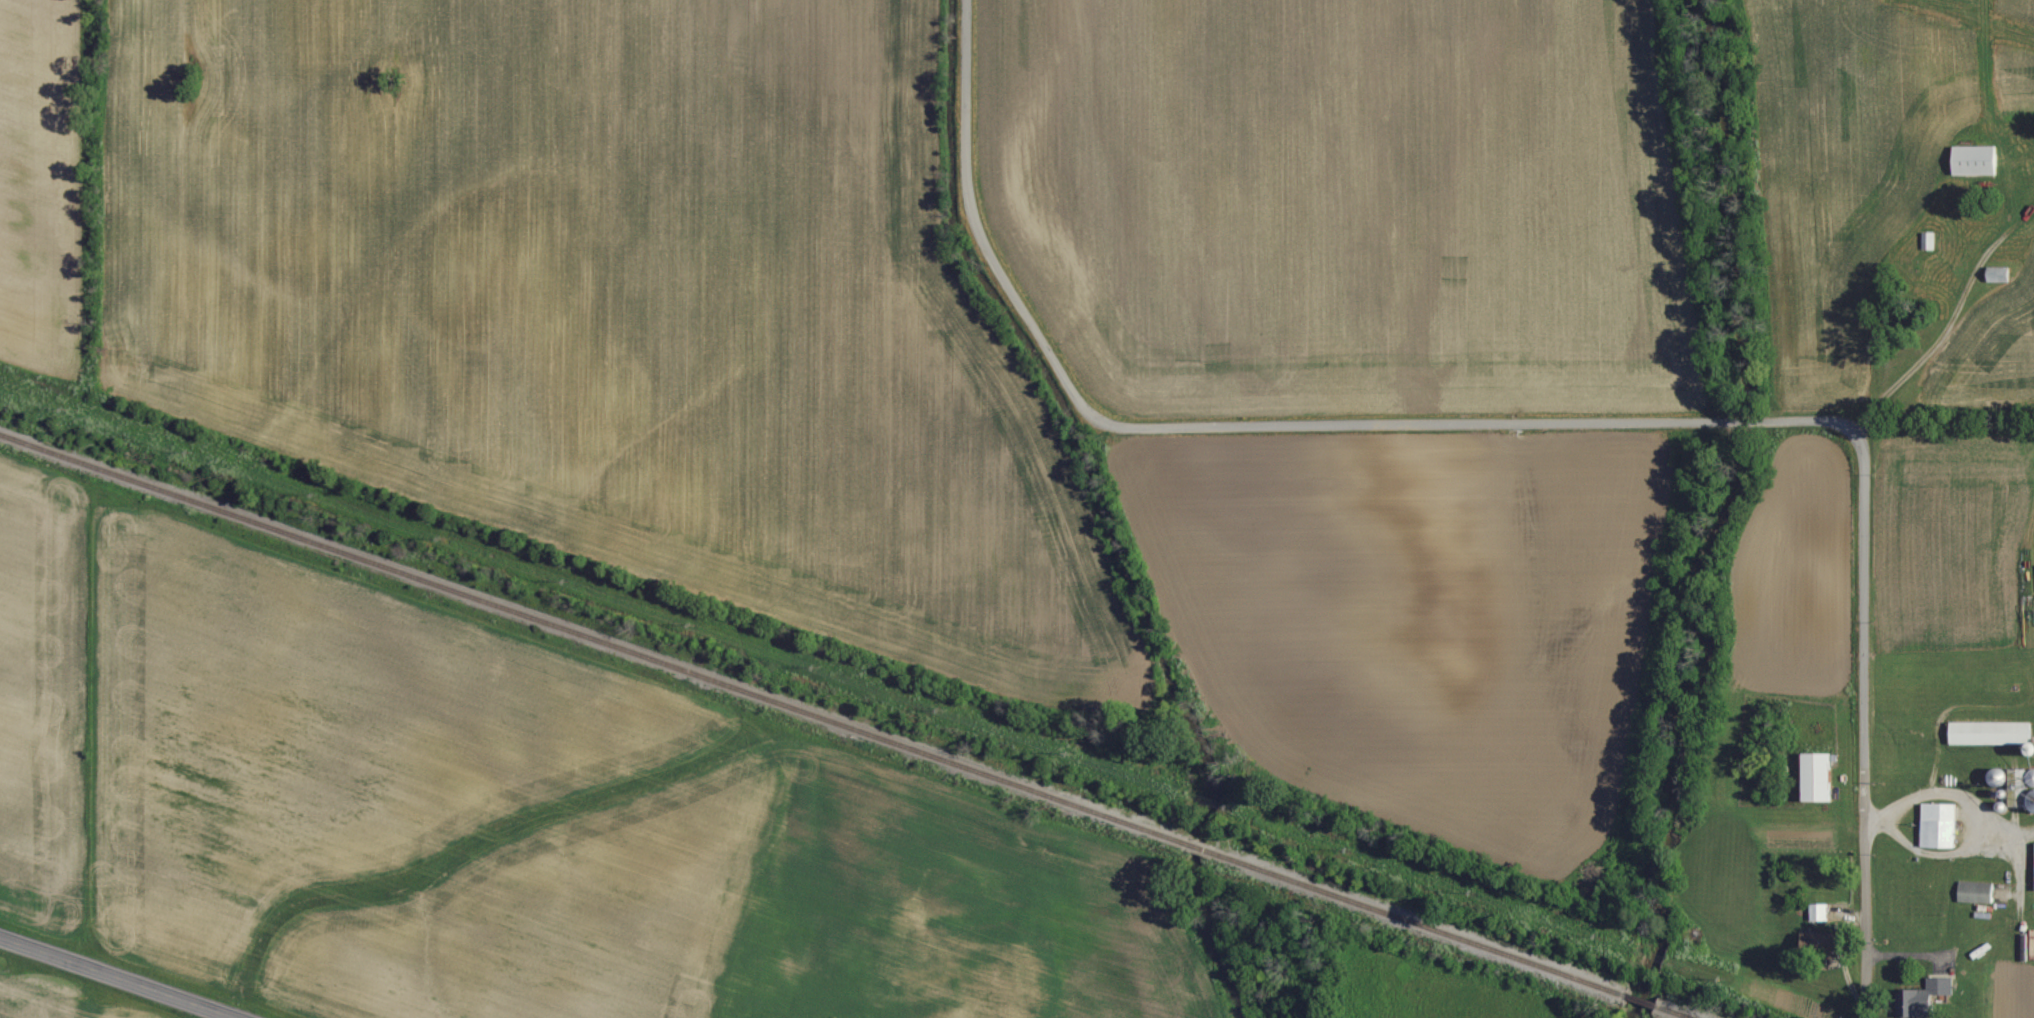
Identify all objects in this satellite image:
building: (1973, 157)
road: (2022, 216)
road: (978, 227)
building: (1927, 238)
building: (1996, 272)
road: (1940, 334)
road: (1799, 418)
road: (1735, 419)
road: (1414, 422)
railway: (593, 636)
road: (1863, 719)
building: (1993, 731)
building: (1822, 775)
building: (2016, 783)
building: (1943, 824)
railway: (1198, 845)
building: (1978, 891)
railway: (1418, 921)
road: (117, 978)
building: (1930, 996)
railway: (1641, 997)
railway: (1678, 1010)

